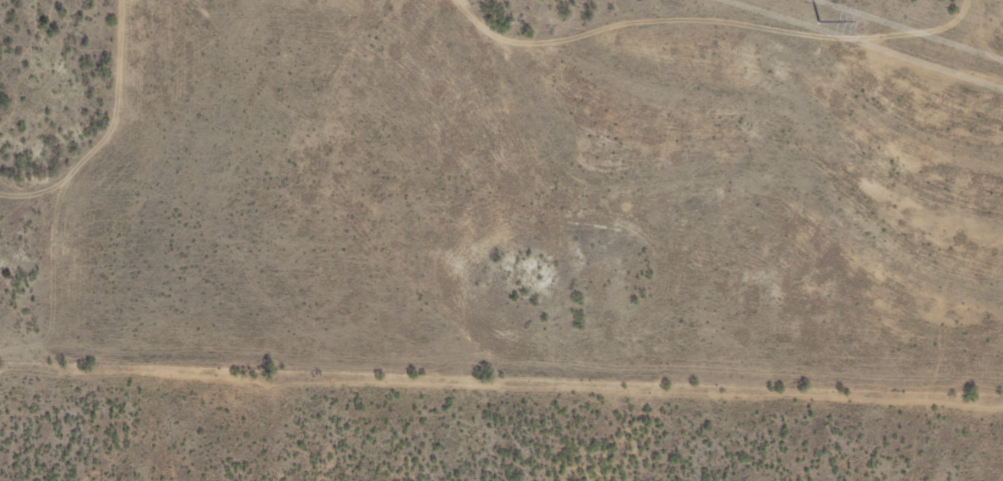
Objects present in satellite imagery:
power tower: (820, 19)

